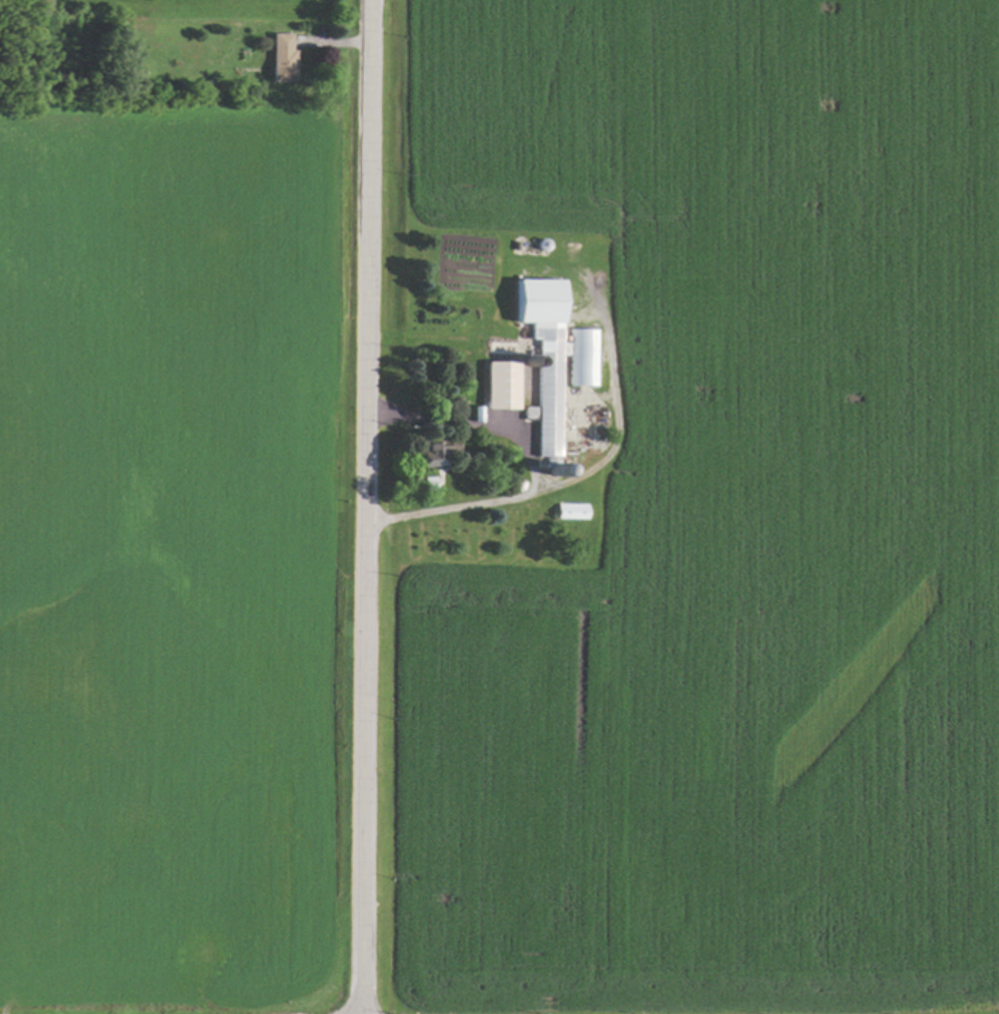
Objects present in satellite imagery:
building: (282, 58)
building: (542, 354)
building: (497, 384)
building: (436, 451)
road: (520, 497)
road: (367, 506)
crop: (726, 520)
crop: (167, 550)

